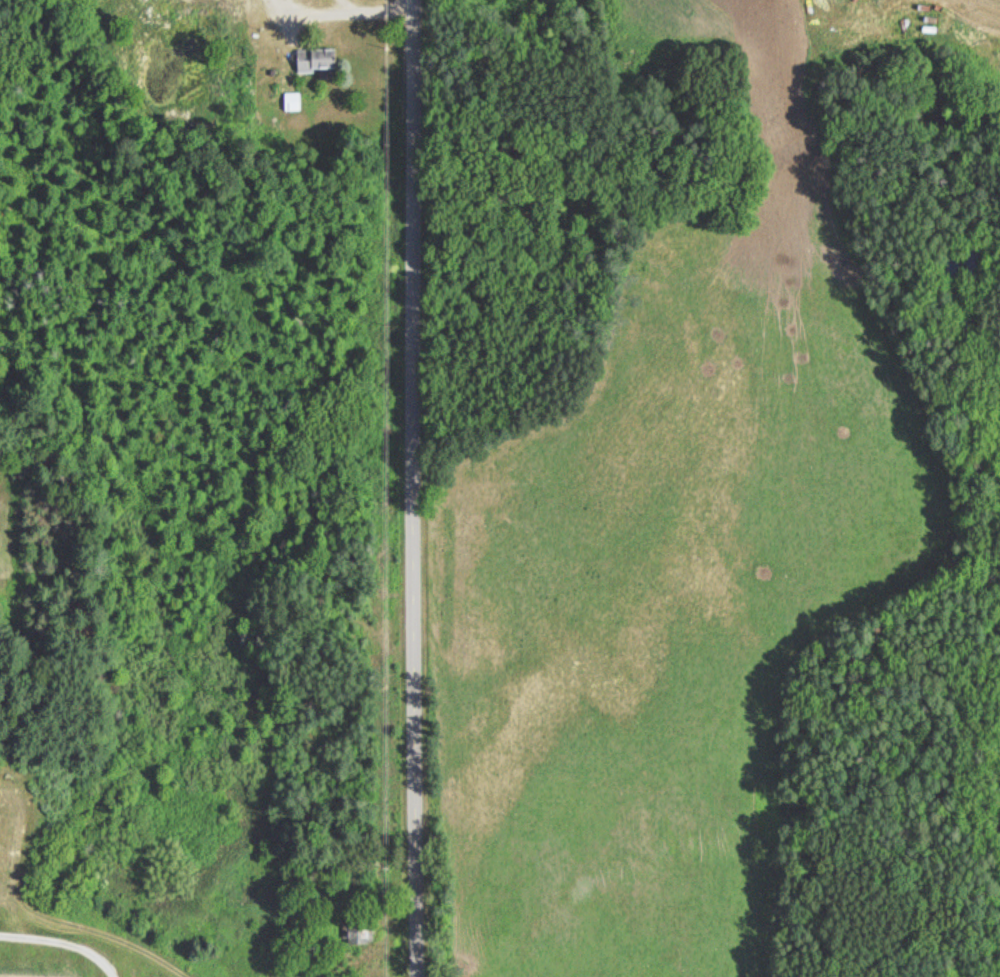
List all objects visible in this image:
building: (319, 59)
road: (414, 488)

